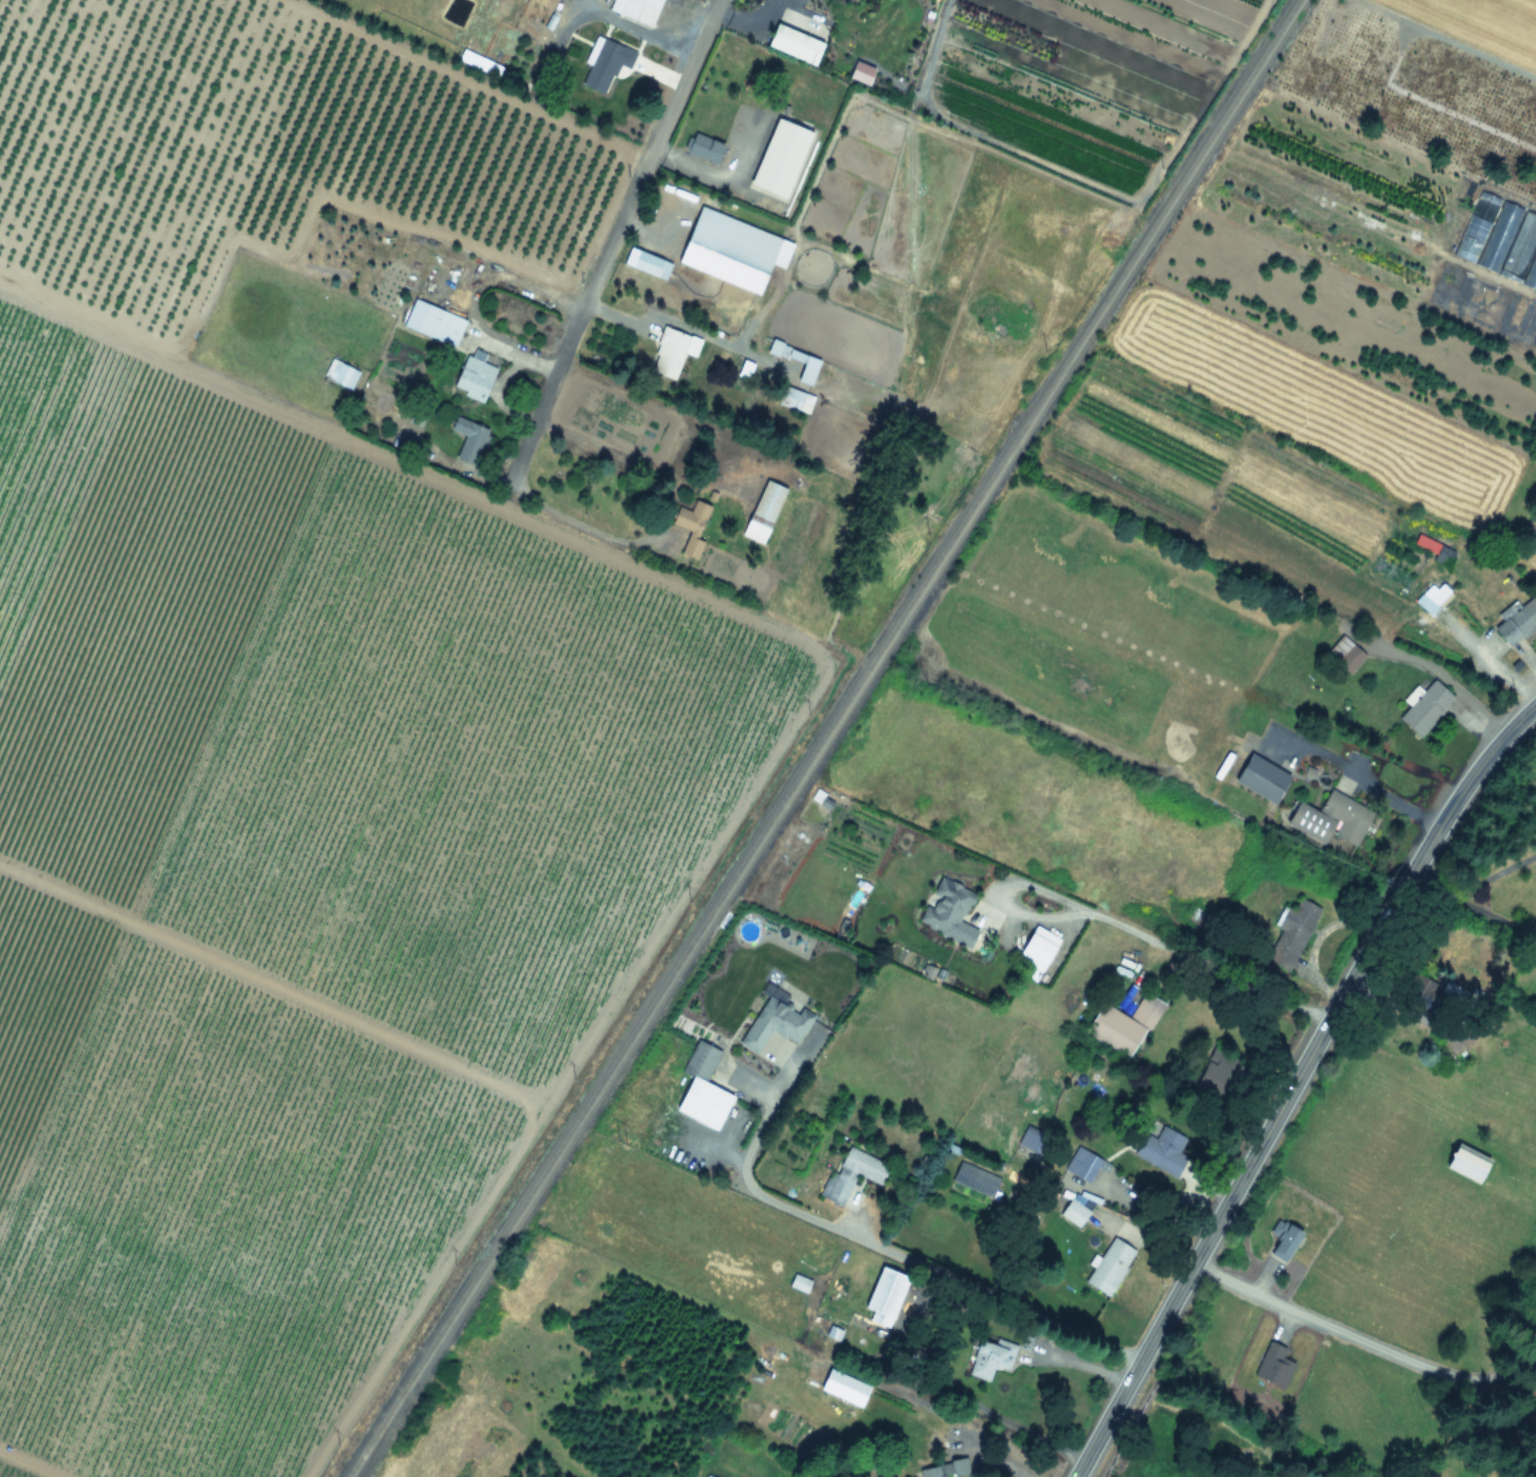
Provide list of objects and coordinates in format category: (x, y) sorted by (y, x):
building: (636, 10)
road: (744, 16)
road: (636, 29)
building: (793, 44)
building: (603, 63)
building: (703, 148)
building: (779, 157)
building: (1500, 240)
road: (611, 241)
building: (728, 249)
building: (650, 264)
building: (433, 322)
building: (668, 353)
building: (804, 366)
building: (339, 374)
building: (473, 378)
building: (793, 398)
building: (468, 441)
road: (631, 460)
building: (762, 511)
road: (572, 520)
building: (690, 525)
building: (1532, 535)
building: (1443, 553)
crop: (443, 590)
building: (1517, 620)
building: (1346, 655)
road: (1486, 663)
road: (1445, 676)
road: (1177, 690)
building: (453, 698)
building: (1423, 706)
railway: (822, 737)
road: (1356, 775)
building: (1260, 778)
building: (1329, 819)
building: (493, 868)
road: (1498, 873)
road: (1436, 891)
road: (1046, 899)
building: (947, 912)
road: (1499, 918)
building: (1288, 937)
building: (1037, 948)
road: (1208, 968)
building: (1435, 992)
building: (773, 1024)
building: (1112, 1030)
road: (1295, 1082)
building: (701, 1088)
road: (1425, 1088)
road: (764, 1124)
building: (1161, 1146)
building: (1465, 1162)
building: (850, 1174)
building: (974, 1178)
building: (1073, 1212)
building: (117, 1232)
building: (1283, 1242)
building: (1108, 1267)
road: (943, 1273)
building: (883, 1294)
road: (1311, 1317)
building: (988, 1358)
road: (1076, 1361)
building: (1273, 1365)
building: (843, 1387)
building: (175, 1388)
road: (983, 1407)
railway: (377, 1436)
road: (990, 1455)

